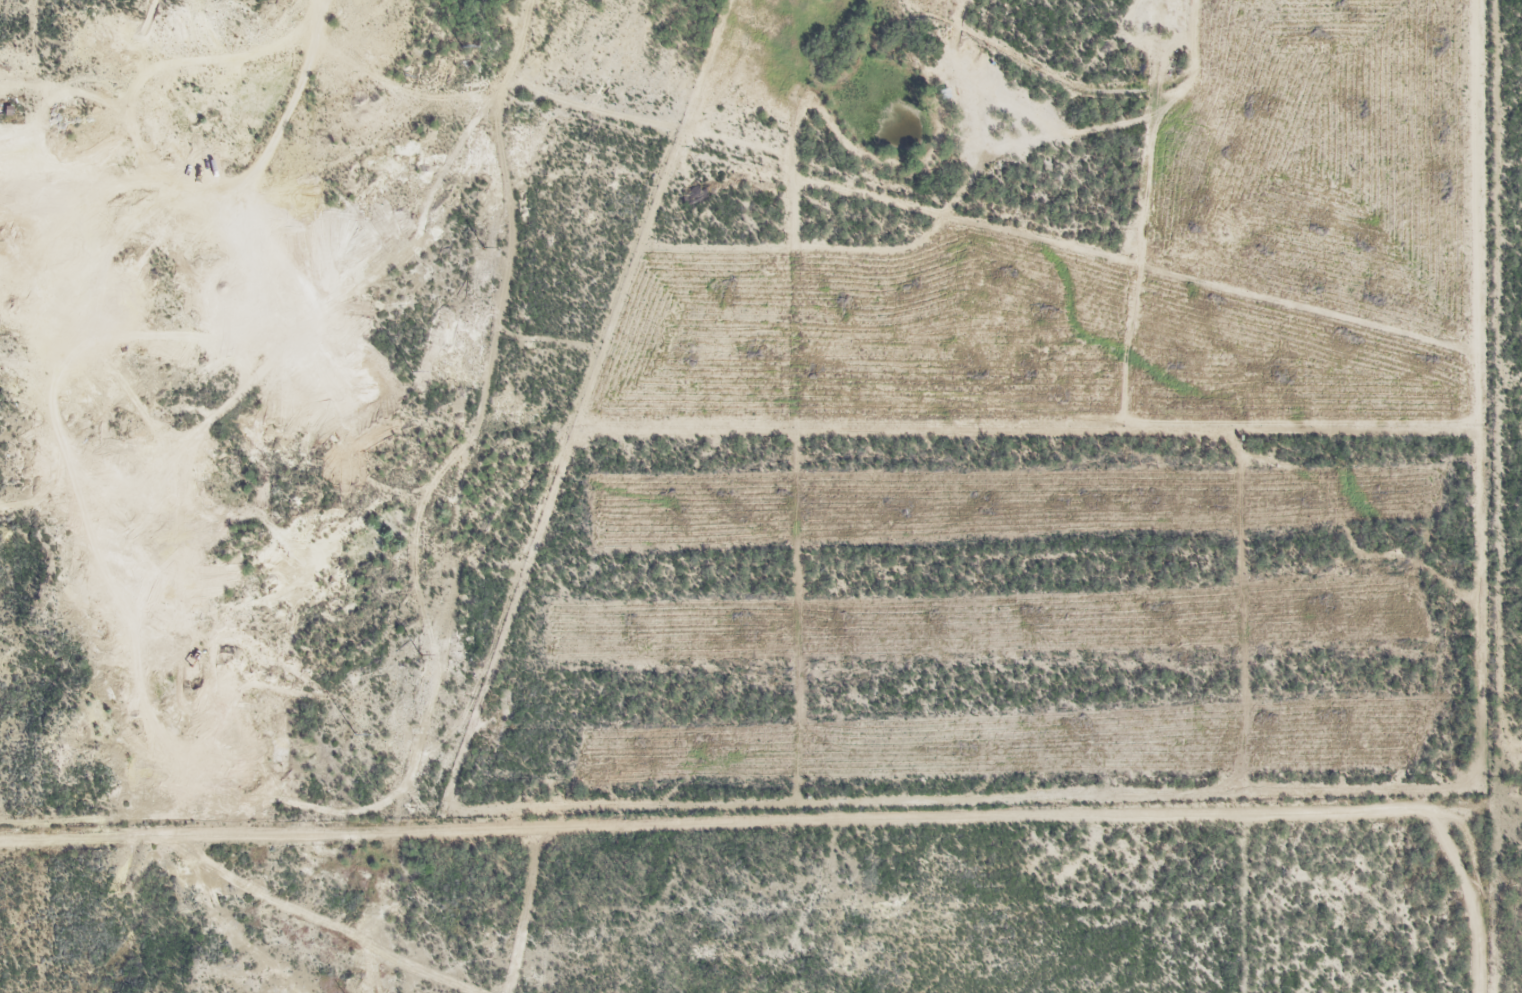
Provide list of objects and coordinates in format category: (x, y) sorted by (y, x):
power tower: (462, 47)
power tower: (484, 248)
power tower: (410, 375)
power tower: (421, 653)
power tower: (355, 735)

